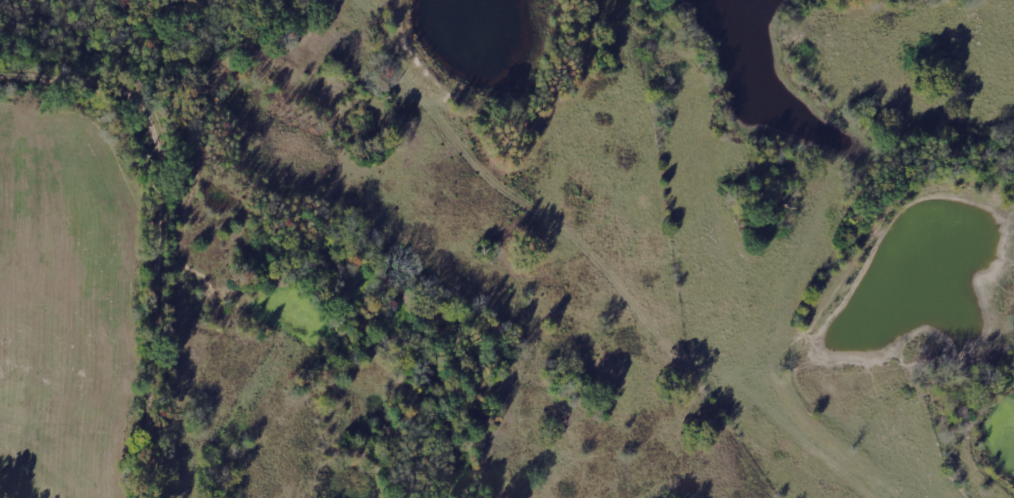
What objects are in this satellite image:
road: (166, 225)

